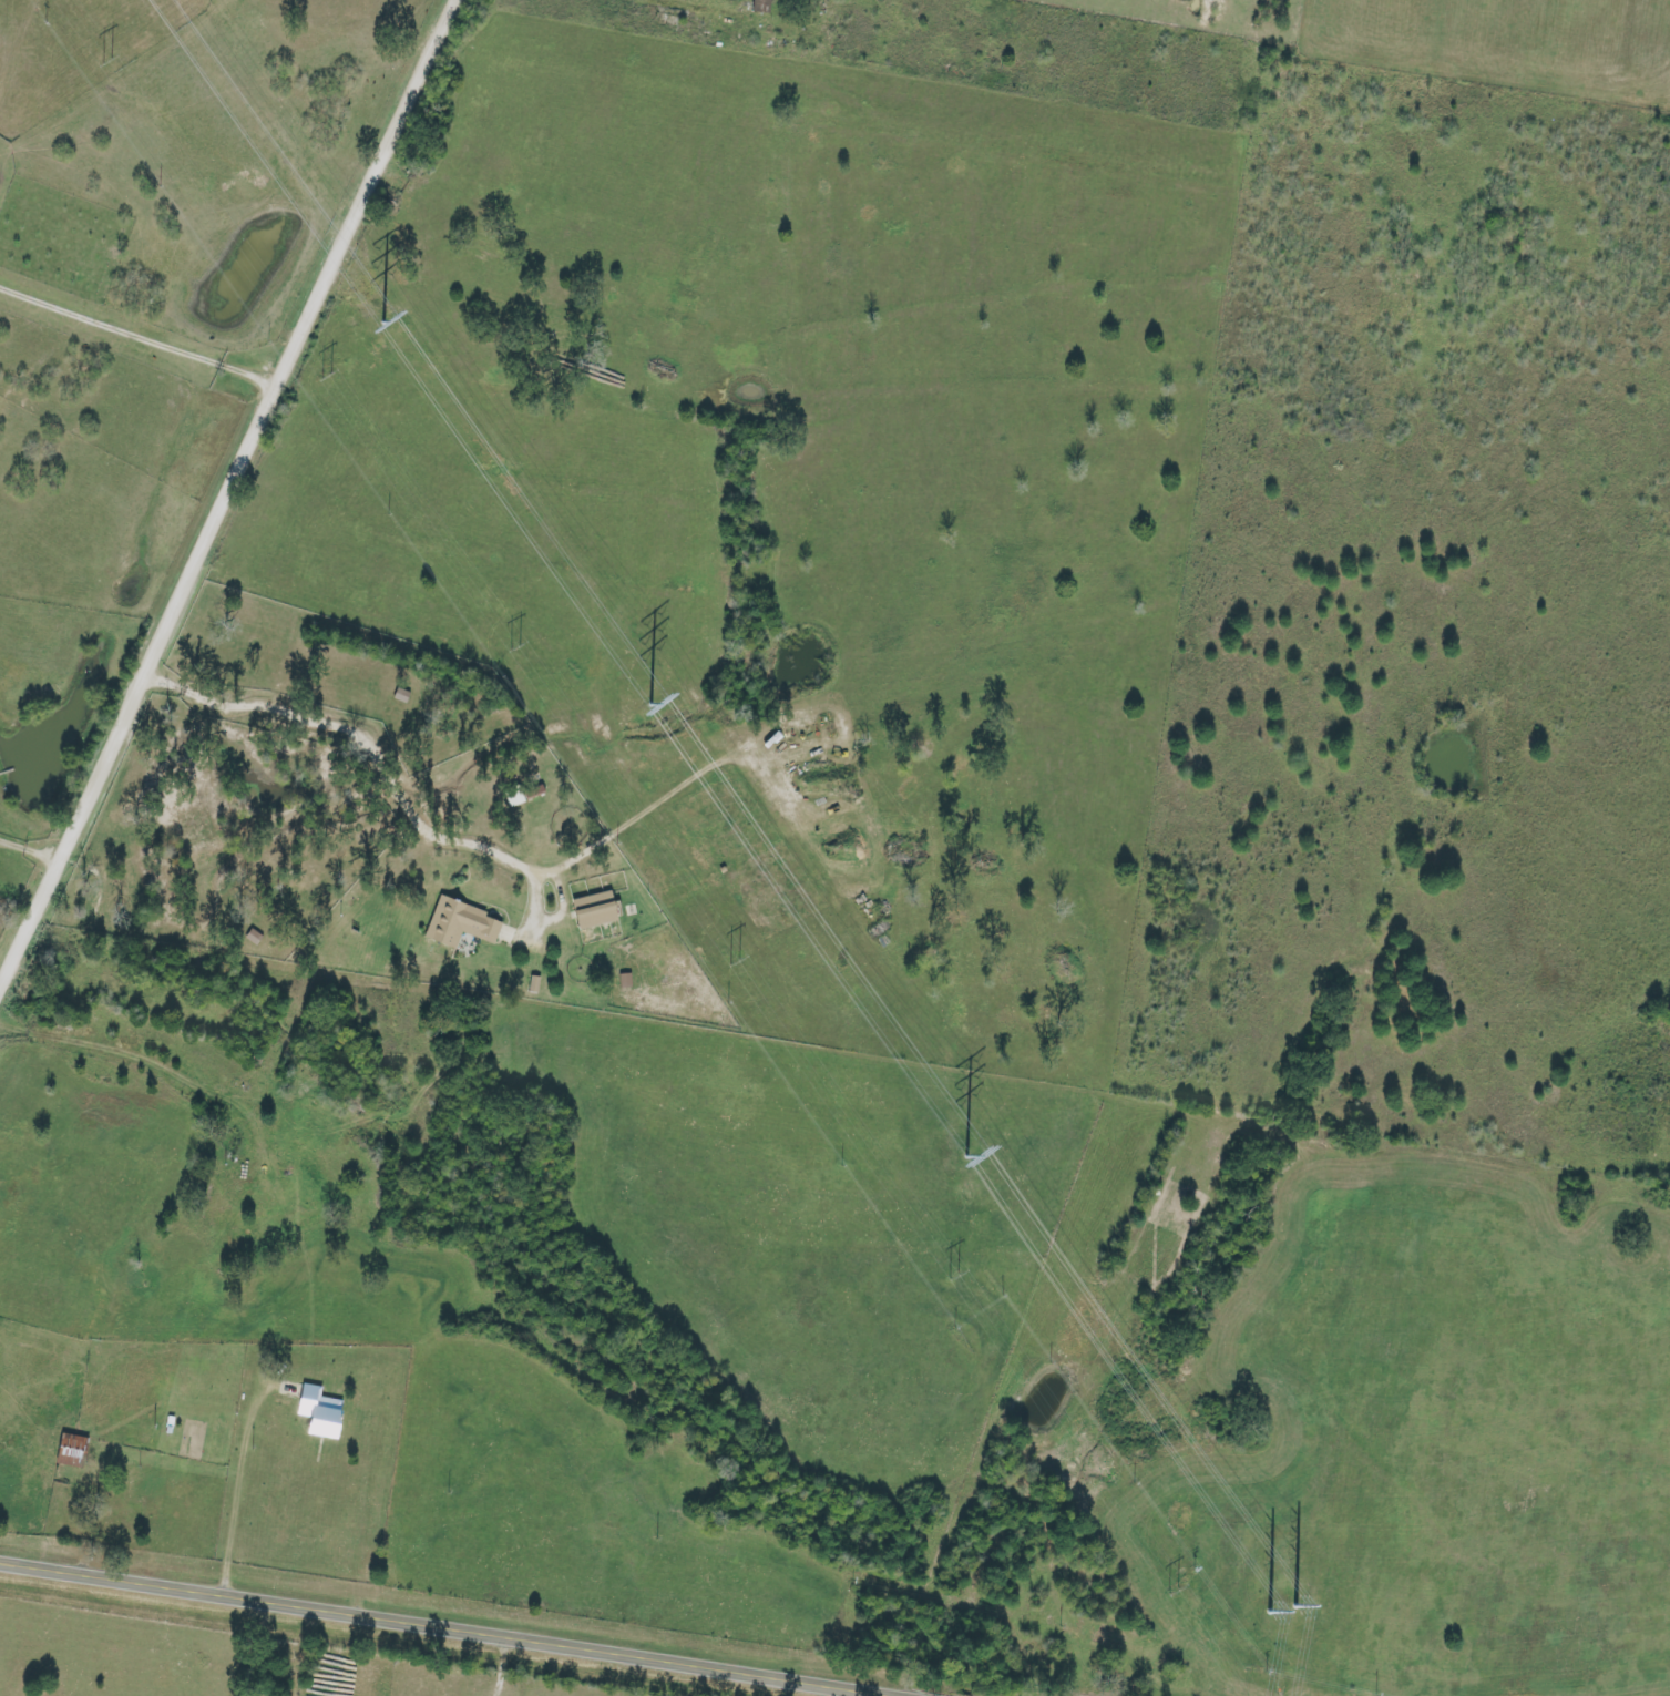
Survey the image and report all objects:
building: (761, 7)
power tower: (107, 61)
road: (414, 300)
power tower: (379, 314)
power tower: (326, 377)
road: (232, 500)
road: (324, 511)
power tower: (510, 644)
power tower: (647, 697)
road: (203, 746)
building: (534, 790)
building: (513, 796)
building: (595, 909)
building: (459, 923)
road: (91, 958)
power tower: (735, 962)
power tower: (965, 1147)
road: (189, 1178)
power tower: (963, 1277)
building: (318, 1414)
building: (72, 1450)
power tower: (1188, 1593)
power tower: (1279, 1597)
road: (444, 1627)

